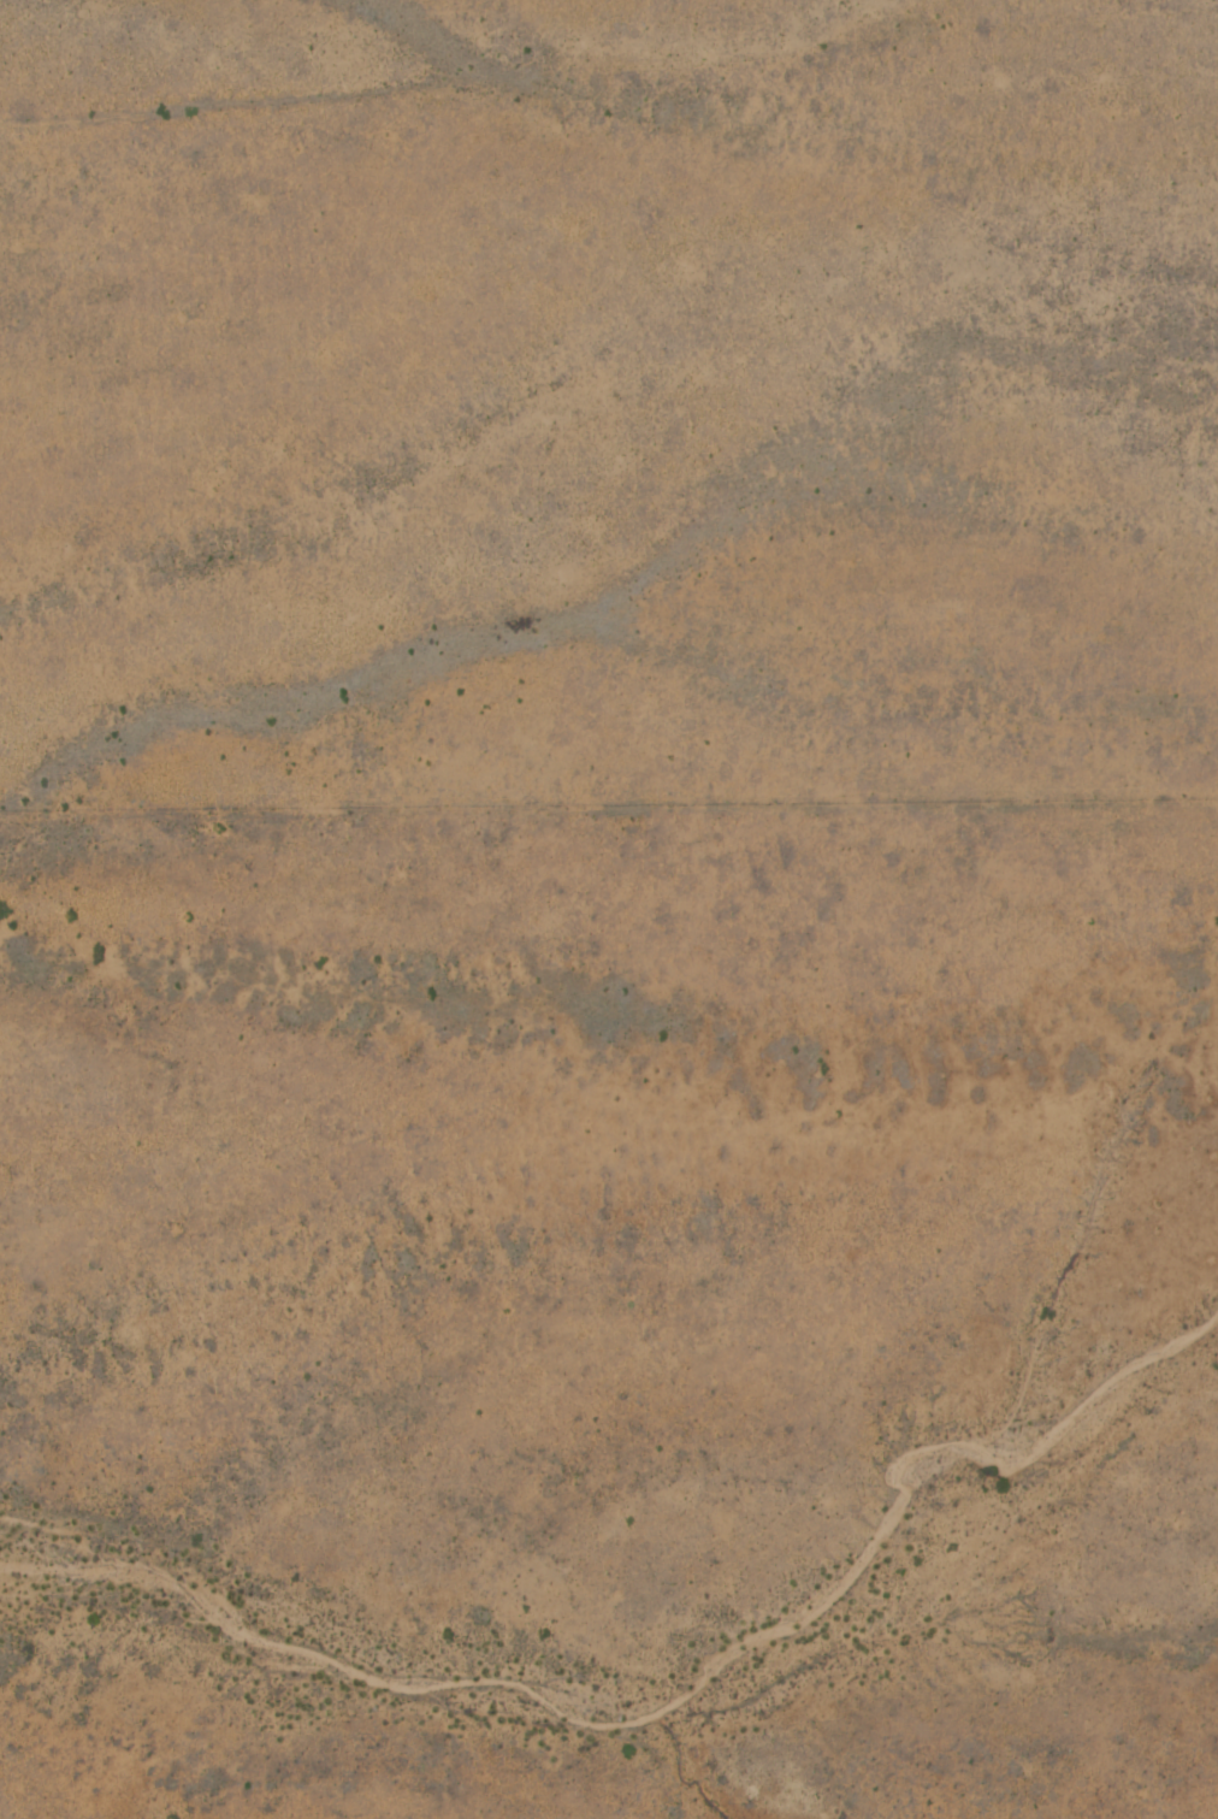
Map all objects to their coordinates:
road: (455, 1803)
road: (55, 1817)

